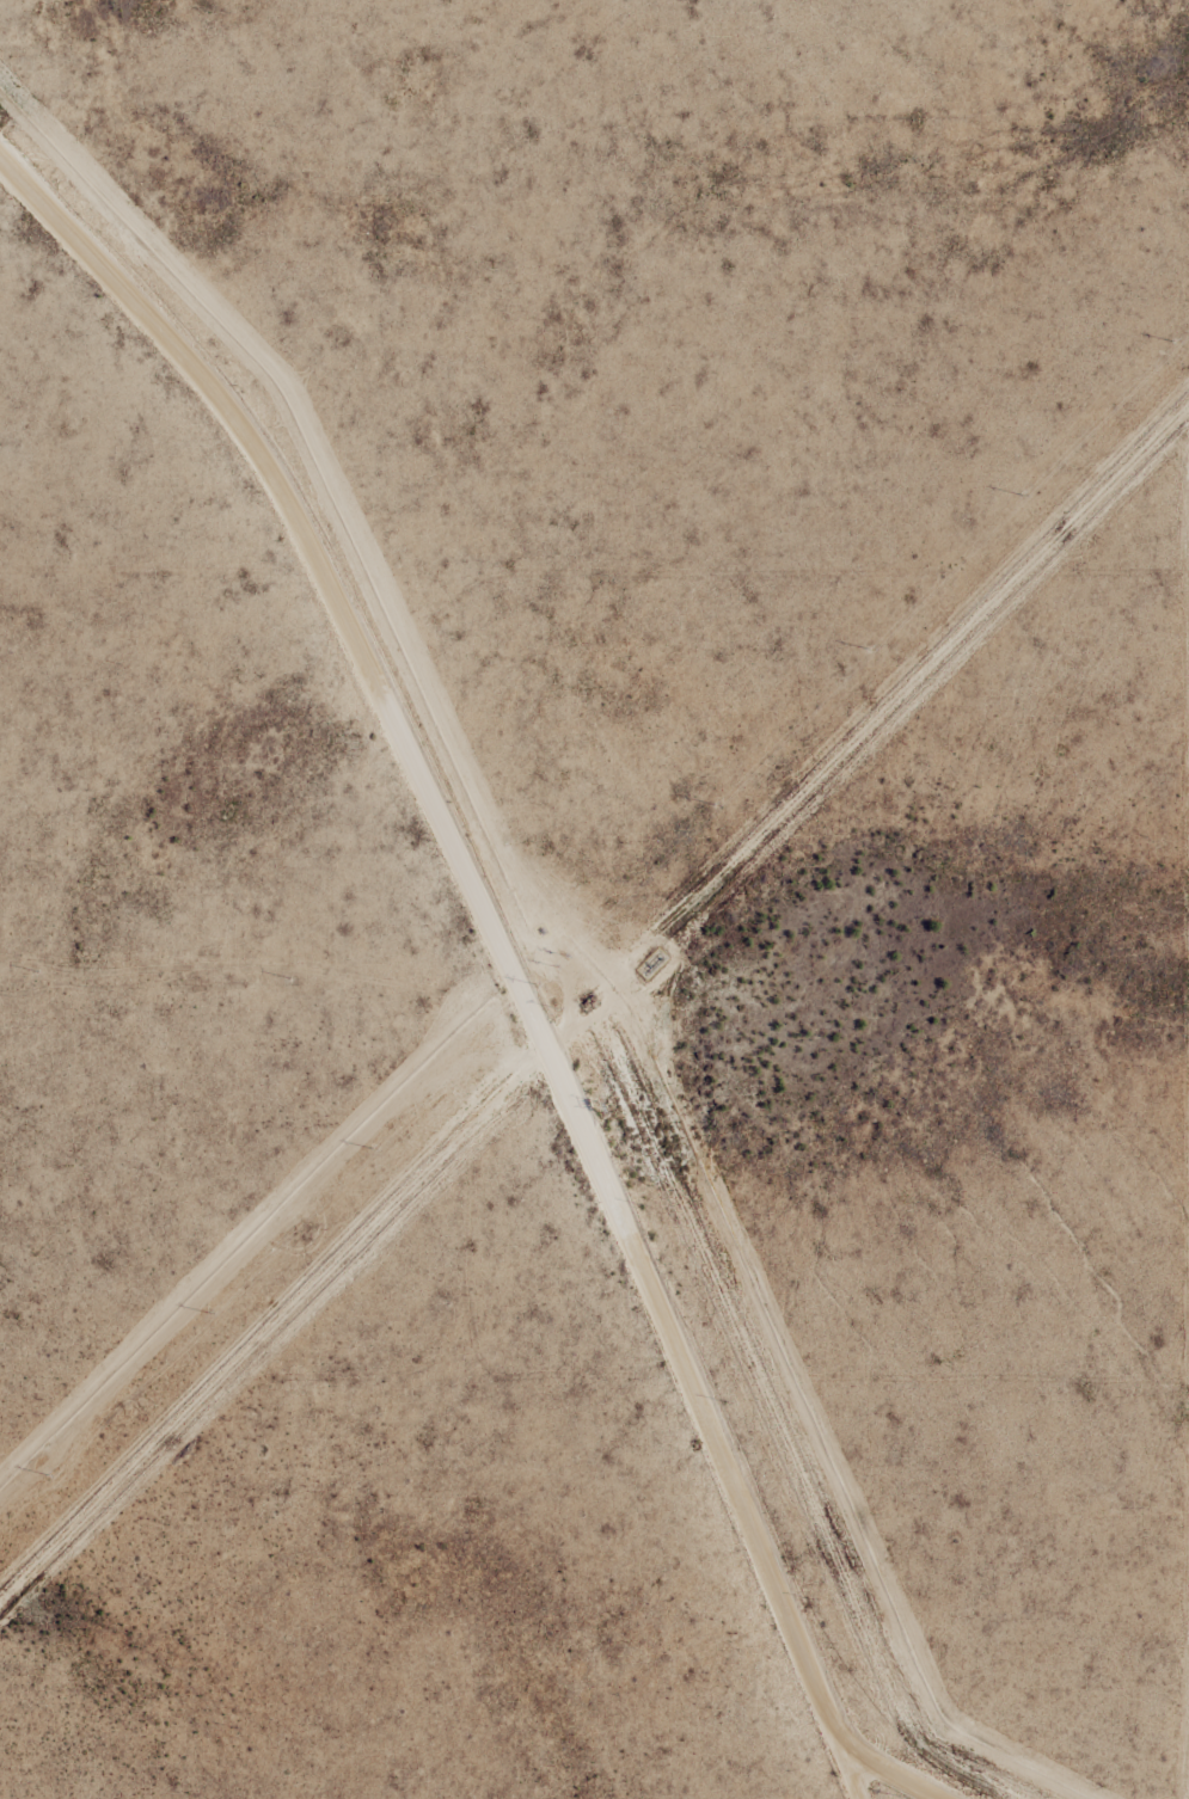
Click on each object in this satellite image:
road: (497, 937)
road: (881, 1785)

